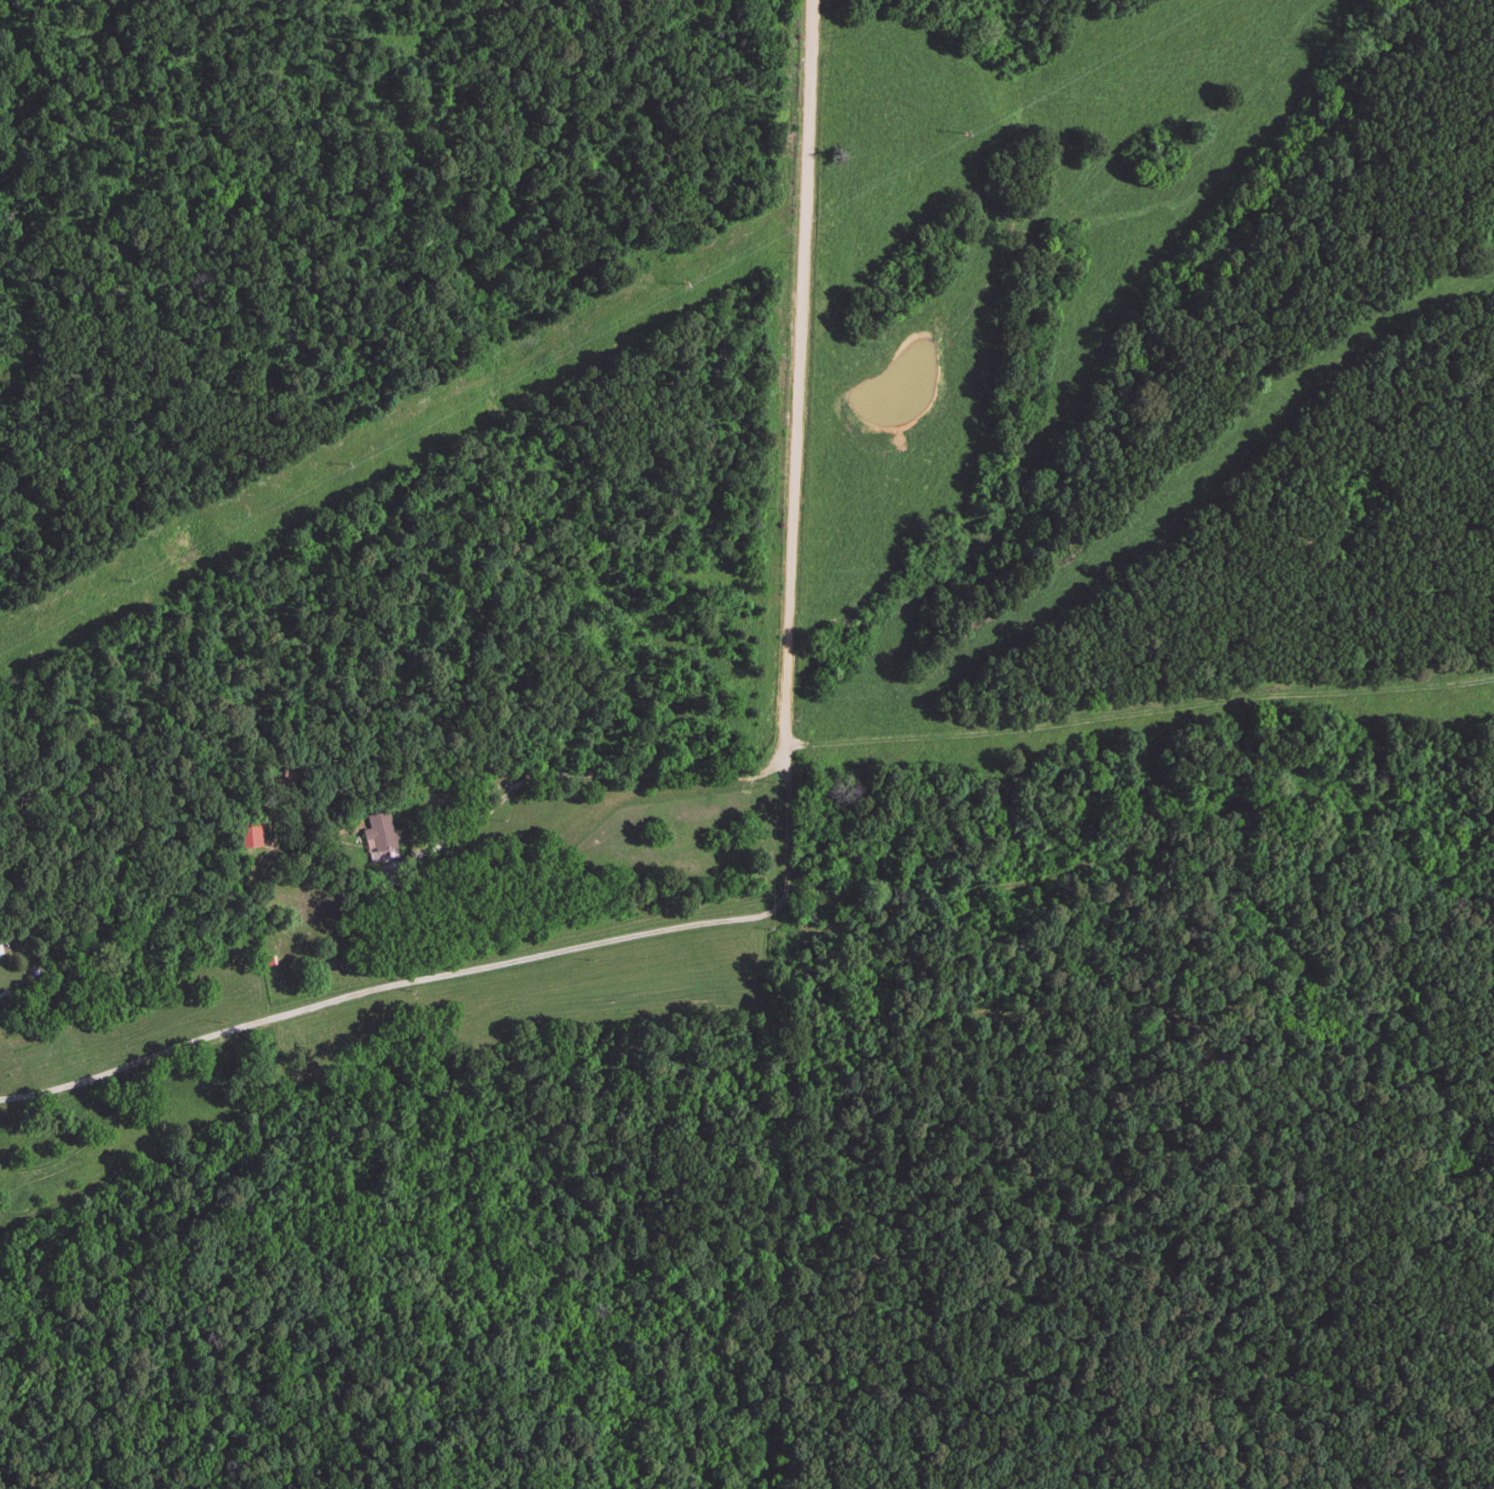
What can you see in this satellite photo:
power tower: (963, 134)
power tower: (681, 282)
power tower: (343, 466)
road: (792, 514)
power tower: (127, 581)
road: (457, 831)
building: (248, 835)
building: (379, 838)
road: (466, 970)
road: (1371, 1447)

